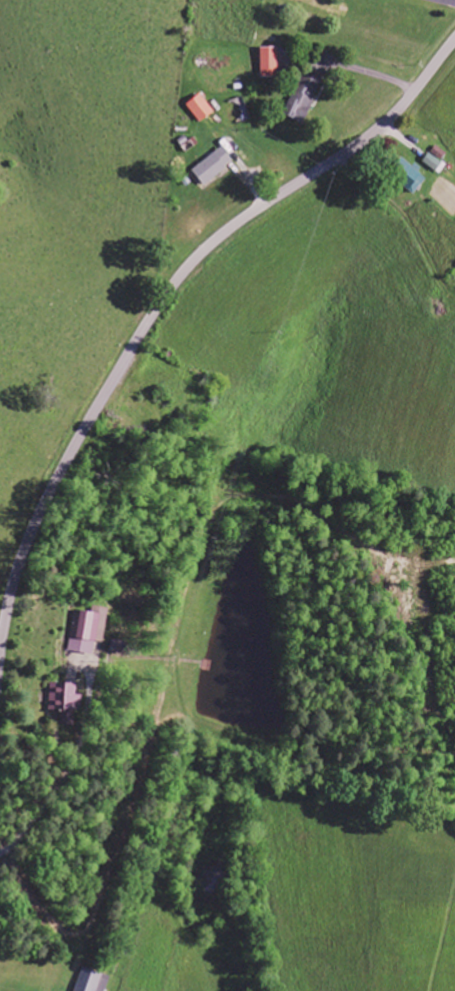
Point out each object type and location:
building: (270, 63)
building: (306, 98)
building: (201, 109)
building: (435, 163)
building: (214, 166)
building: (413, 176)
road: (160, 307)
building: (89, 629)
building: (120, 647)
building: (67, 701)
building: (93, 981)

